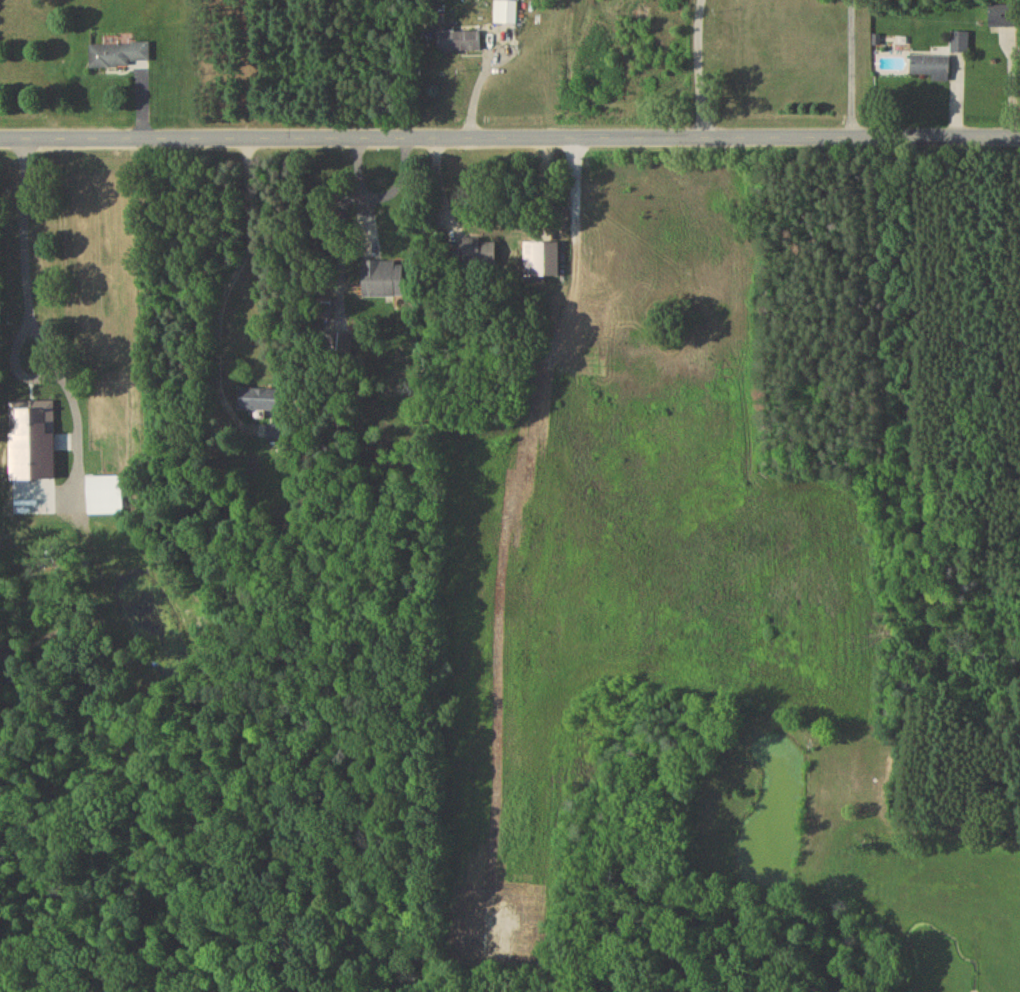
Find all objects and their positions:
building: (506, 14)
building: (1003, 18)
building: (459, 42)
building: (961, 44)
building: (120, 57)
building: (931, 67)
road: (699, 70)
road: (855, 70)
road: (509, 141)
road: (400, 186)
road: (361, 194)
building: (477, 254)
road: (236, 274)
building: (384, 282)
road: (16, 328)
building: (260, 402)
building: (103, 492)

